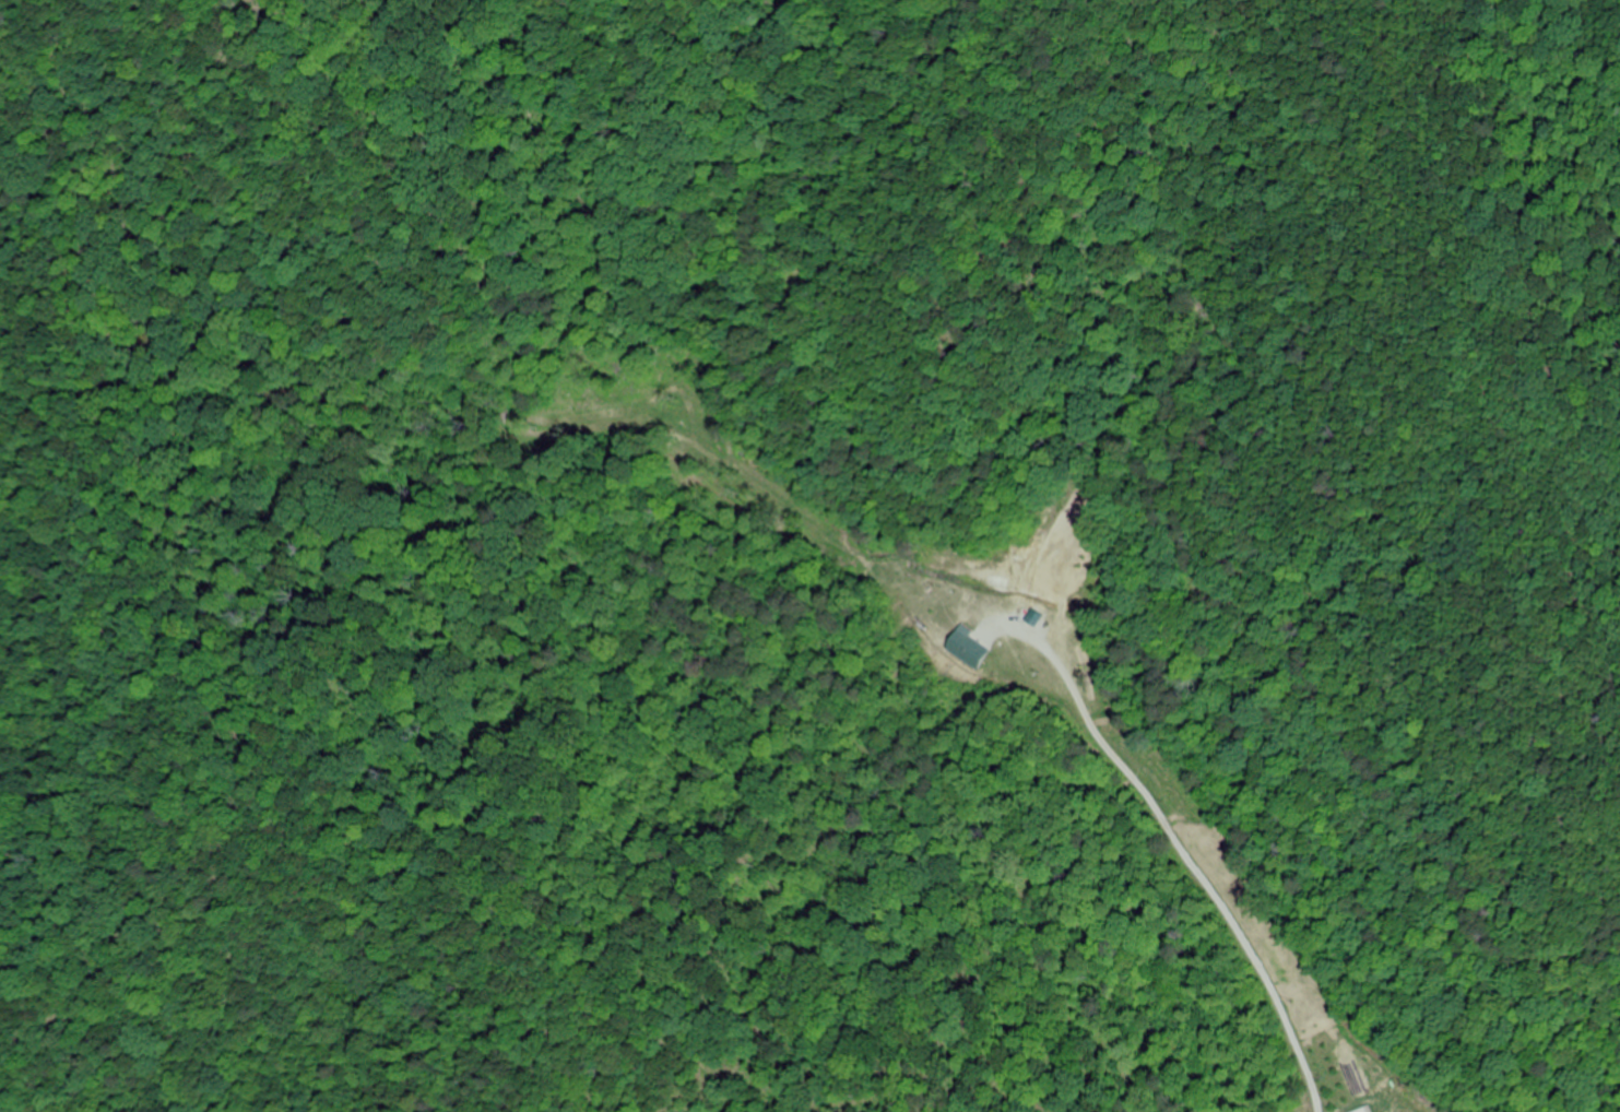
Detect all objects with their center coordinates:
building: (969, 652)

